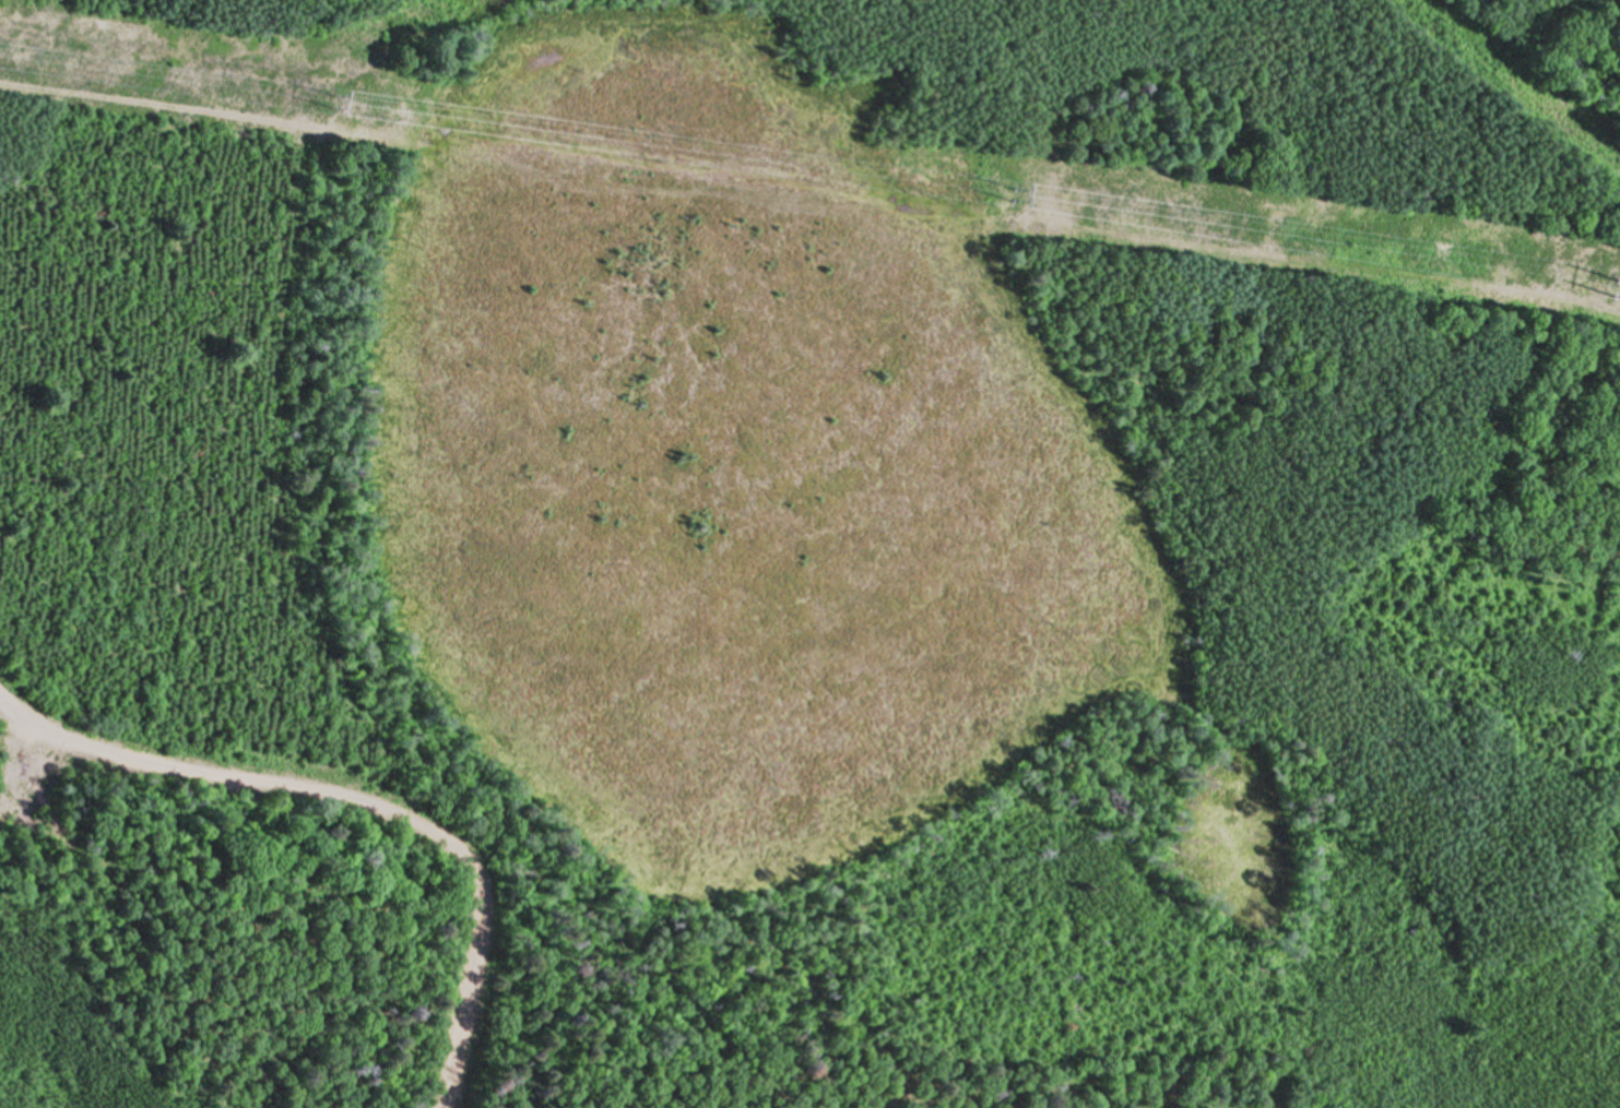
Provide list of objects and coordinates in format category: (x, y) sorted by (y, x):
power tower: (342, 106)
power tower: (998, 195)
power tower: (1581, 275)
road: (208, 774)
road: (469, 957)

